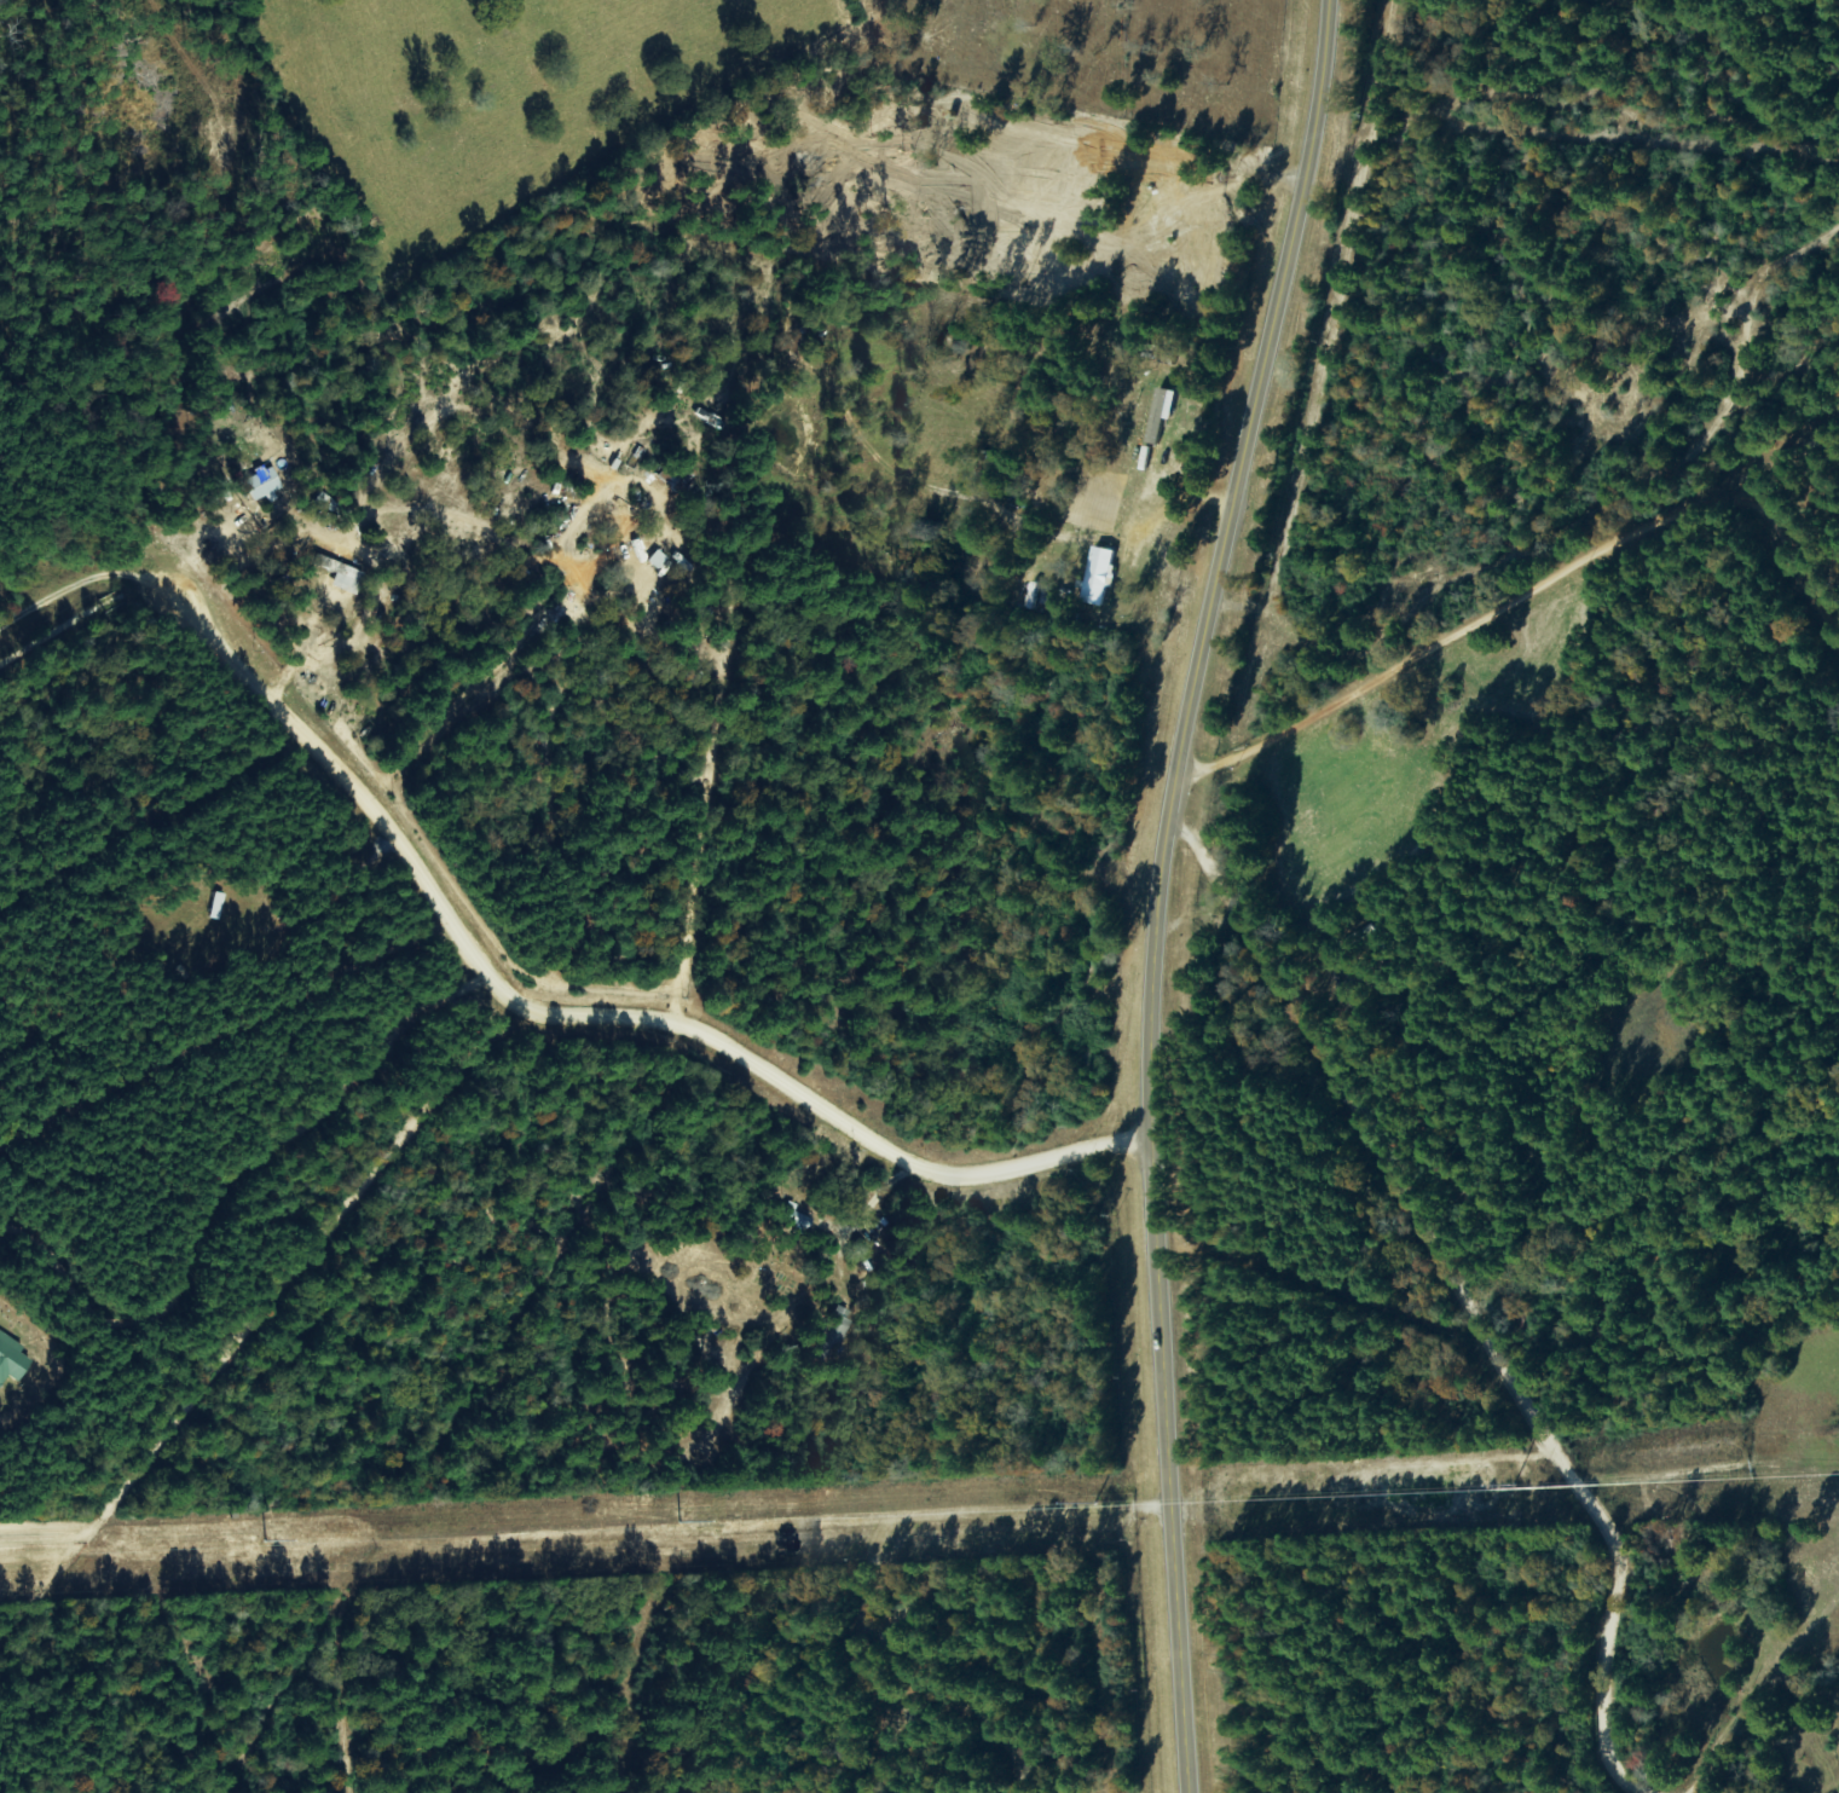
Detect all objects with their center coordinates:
building: (1164, 415)
building: (264, 482)
building: (654, 572)
building: (341, 573)
building: (1101, 576)
road: (59, 614)
road: (1509, 872)
road: (1158, 889)
road: (1467, 1315)
building: (12, 1358)
power tower: (1452, 1493)
power tower: (1104, 1509)
power tower: (718, 1527)
power tower: (232, 1548)

